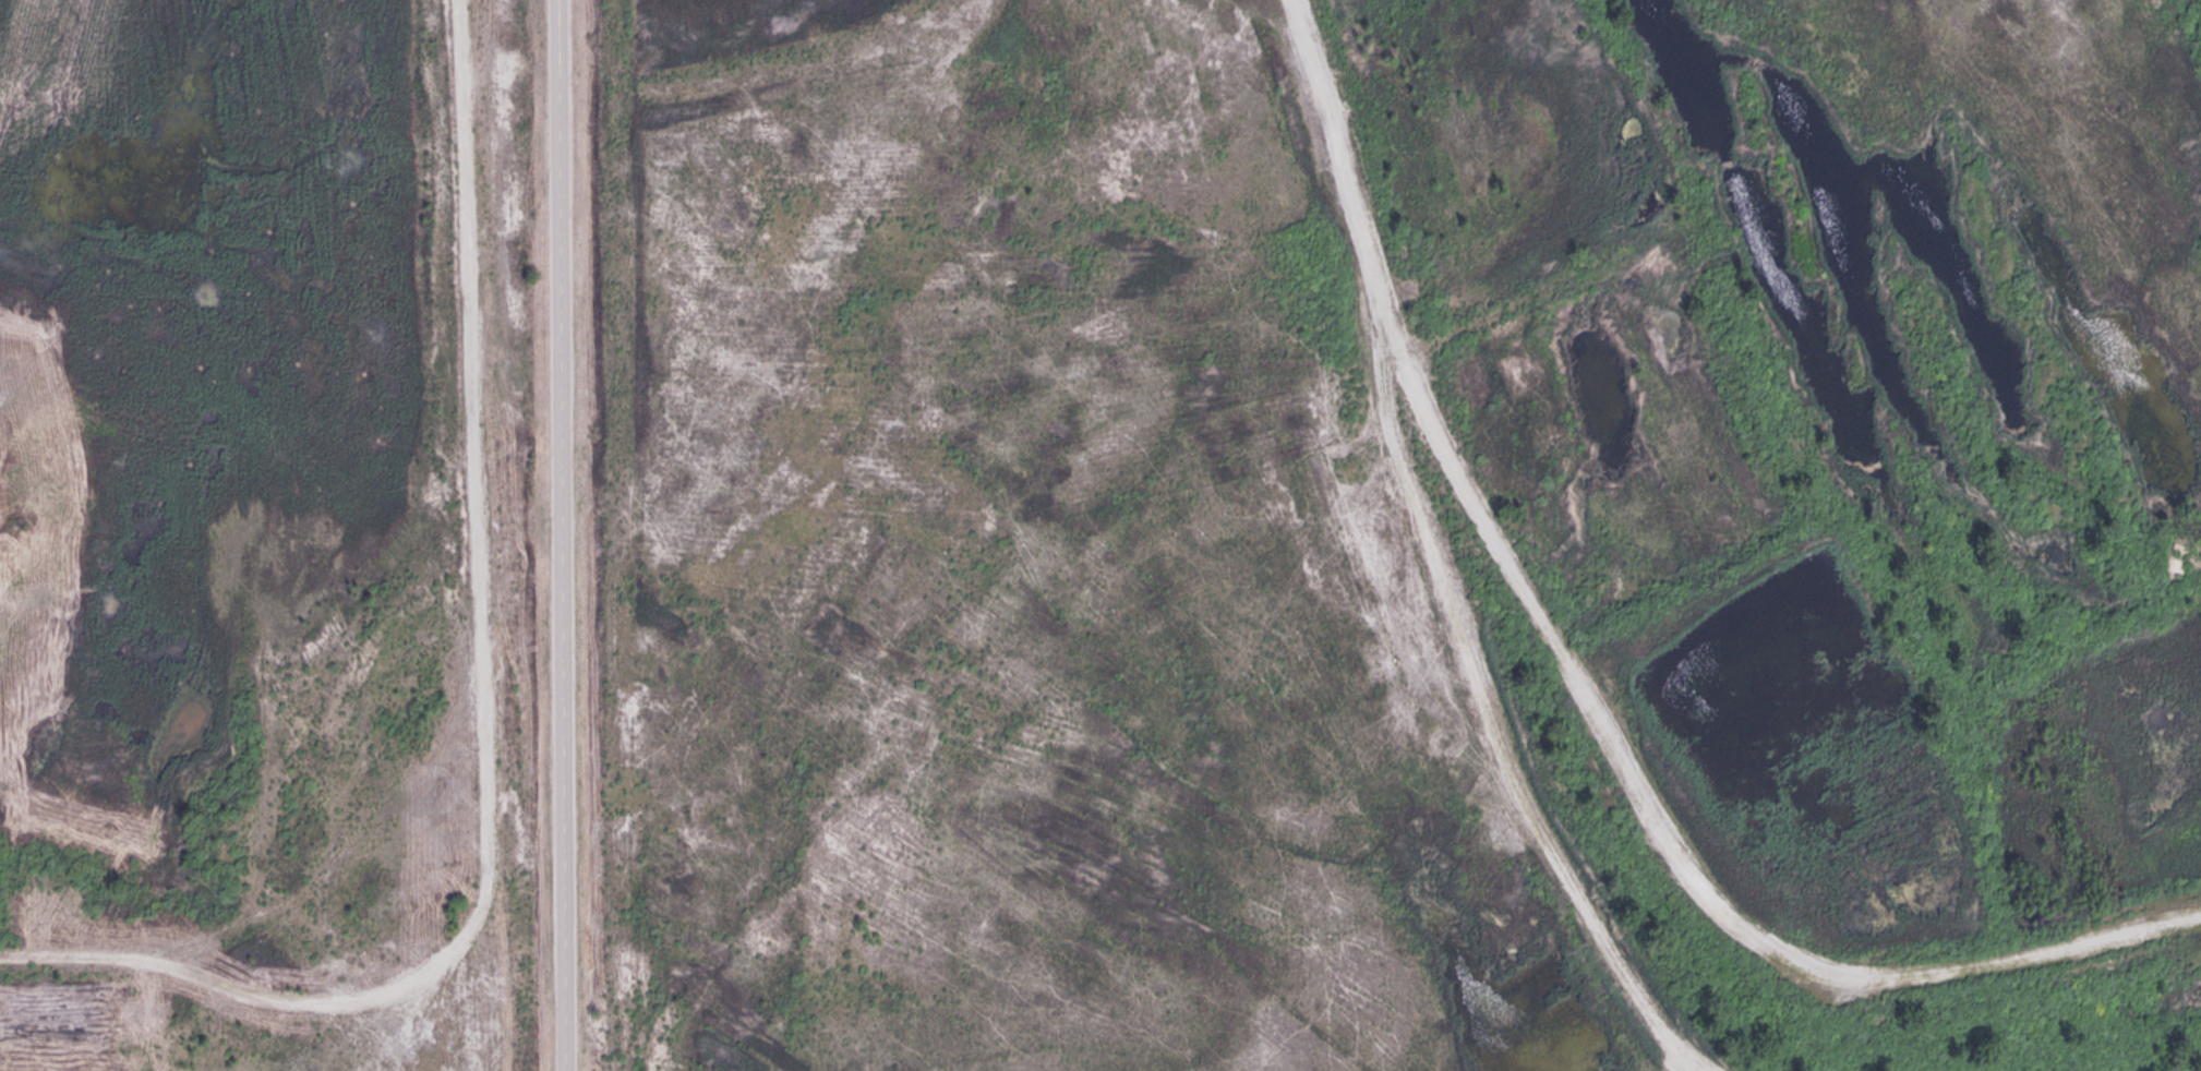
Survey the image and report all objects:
road: (561, 39)
road: (564, 575)
road: (1585, 697)
road: (1486, 720)

